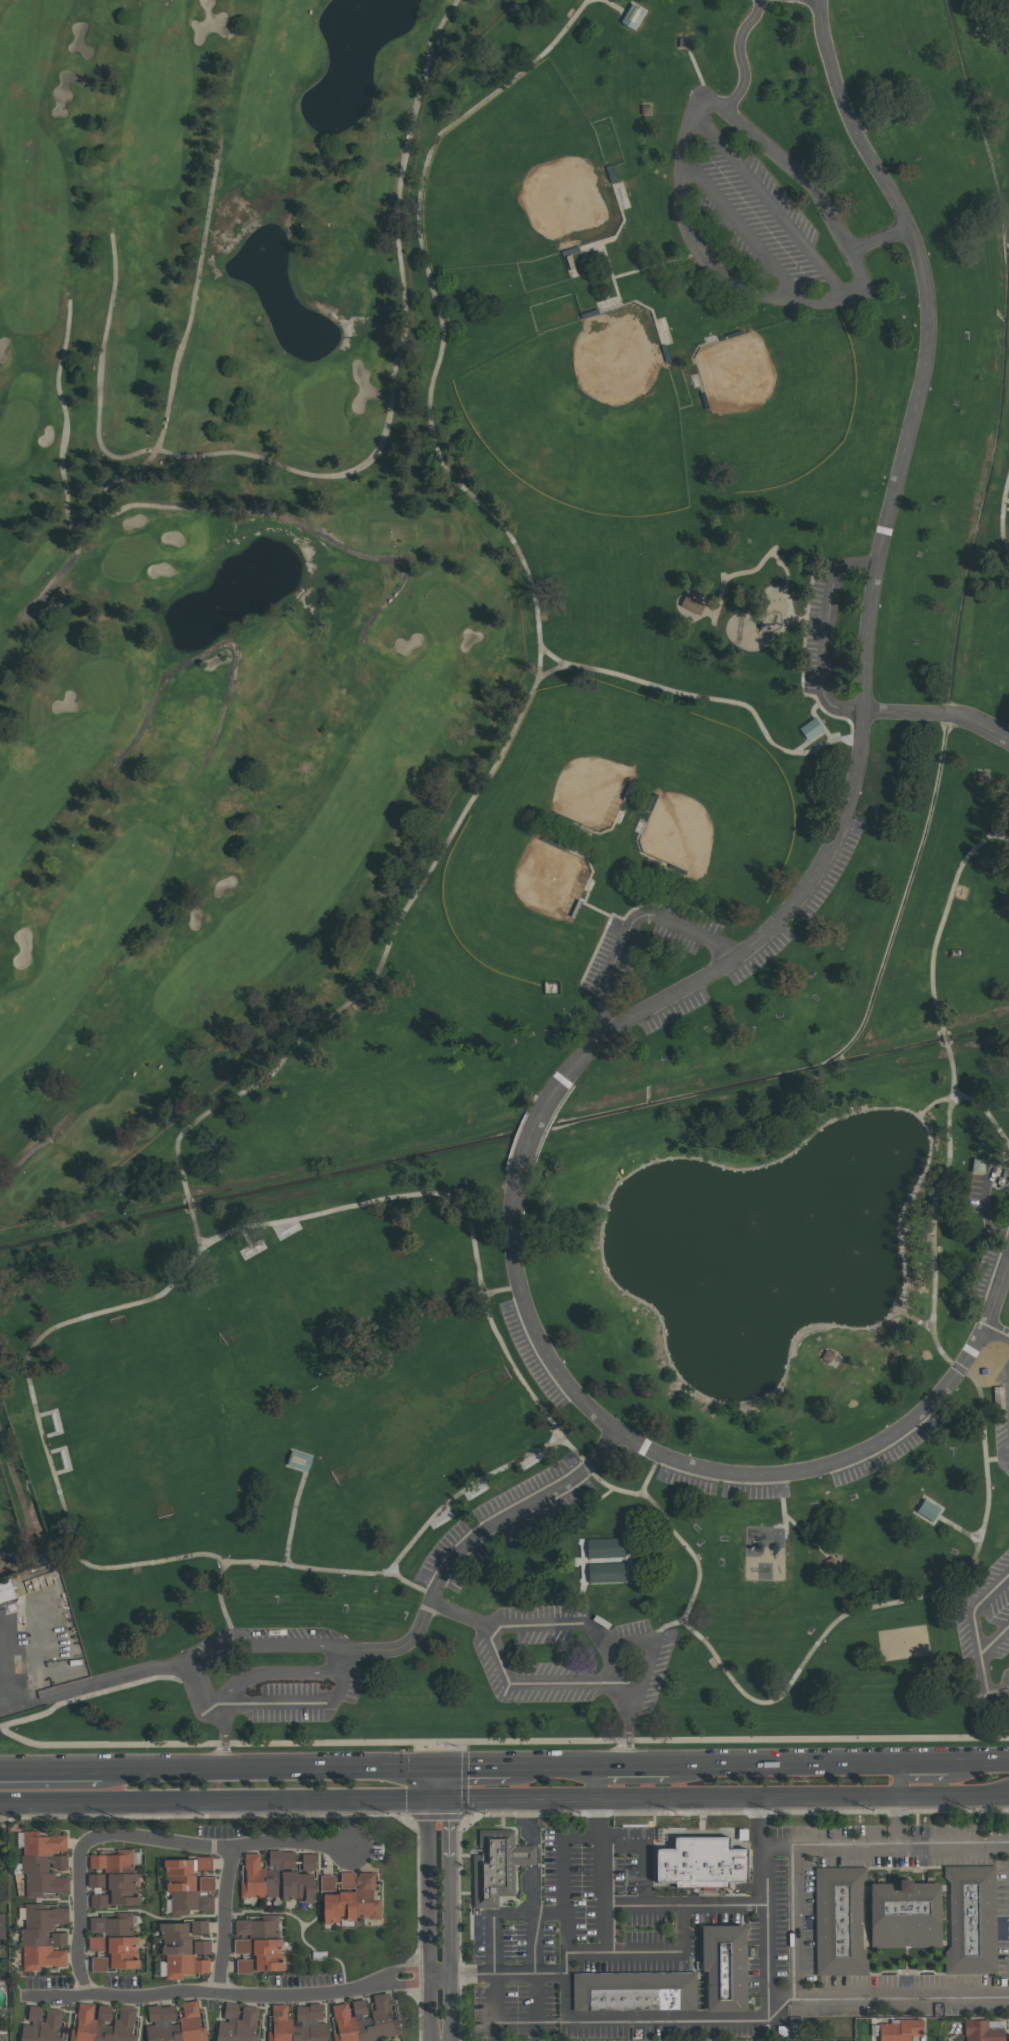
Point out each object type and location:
road: (820, 0)
building: (636, 16)
road: (796, 173)
park: (531, 178)
road: (768, 210)
parking lot: (751, 223)
road: (738, 229)
road: (690, 246)
road: (194, 297)
park: (770, 402)
park: (580, 420)
road: (64, 424)
road: (362, 466)
road: (241, 510)
road: (1001, 520)
park: (213, 548)
building: (691, 604)
road: (870, 608)
road: (537, 613)
parking lot: (818, 636)
road: (828, 637)
road: (206, 649)
road: (714, 700)
road: (902, 712)
road: (950, 714)
road: (983, 727)
building: (810, 732)
park: (578, 771)
park: (709, 819)
road: (1003, 835)
parking lot: (830, 867)
park: (504, 877)
park: (527, 898)
road: (947, 911)
road: (633, 925)
parking lot: (620, 953)
parking lot: (757, 957)
parking lot: (673, 1010)
road: (945, 1041)
road: (953, 1073)
road: (988, 1113)
road: (39, 1145)
road: (525, 1147)
building: (978, 1166)
building: (1005, 1180)
parking lot: (977, 1195)
road: (986, 1199)
road: (189, 1207)
road: (196, 1235)
road: (188, 1265)
parking lot: (989, 1280)
road: (1003, 1284)
road: (500, 1291)
park: (318, 1298)
road: (997, 1334)
parking lot: (534, 1356)
park: (139, 1419)
parking lot: (1001, 1423)
park: (421, 1426)
parking lot: (892, 1447)
building: (299, 1464)
road: (727, 1473)
road: (652, 1476)
parking lot: (723, 1482)
road: (602, 1496)
parking lot: (535, 1501)
building: (929, 1511)
park: (18, 1514)
road: (293, 1520)
road: (958, 1529)
building: (1001, 1534)
road: (470, 1542)
building: (605, 1560)
parking lot: (452, 1561)
building: (8, 1592)
road: (912, 1601)
road: (221, 1604)
road: (665, 1631)
road: (972, 1637)
parking lot: (984, 1638)
road: (600, 1640)
park: (902, 1642)
road: (992, 1642)
road: (266, 1646)
road: (3, 1659)
parking lot: (494, 1664)
road: (610, 1665)
road: (268, 1676)
parking lot: (274, 1680)
road: (98, 1683)
road: (508, 1683)
road: (97, 1694)
road: (2, 1704)
road: (277, 1706)
road: (630, 1732)
road: (225, 1738)
road: (501, 1741)
road: (978, 1764)
road: (784, 1765)
road: (923, 1765)
road: (614, 1766)
road: (650, 1766)
road: (475, 1767)
road: (553, 1767)
road: (270, 1768)
traffic signals: (440, 1768)
road: (50, 1771)
road: (899, 1780)
road: (434, 1782)
road: (445, 1782)
road: (597, 1782)
road: (954, 1796)
traffic signals: (428, 1797)
road: (439, 1797)
traffic signals: (450, 1797)
road: (523, 1797)
road: (748, 1797)
road: (214, 1799)
road: (597, 1814)
road: (526, 1821)
road: (900, 1823)
road: (597, 1834)
road: (644, 1844)
road: (221, 1848)
road: (955, 1849)
road: (763, 1851)
road: (831, 1851)
road: (531, 1855)
building: (112, 1859)
building: (308, 1860)
building: (701, 1861)
building: (44, 1863)
building: (497, 1869)
building: (274, 1878)
building: (96, 1880)
building: (189, 1884)
building: (123, 1889)
building: (350, 1897)
building: (99, 1900)
road: (648, 1905)
road: (81, 1914)
road: (500, 1914)
road: (450, 1918)
road: (428, 1919)
road: (531, 1919)
building: (905, 1919)
road: (225, 1921)
building: (973, 1922)
road: (798, 1924)
building: (2, 1925)
building: (839, 1925)
building: (199, 1926)
building: (44, 1937)
building: (117, 1939)
building: (94, 1943)
building: (258, 1943)
building: (201, 1947)
road: (646, 1951)
building: (179, 1952)
building: (98, 1963)
building: (729, 1968)
road: (508, 1973)
road: (228, 1993)
building: (637, 1993)
road: (842, 1995)
building: (160, 2014)
building: (365, 2019)
road: (571, 2020)
building: (103, 2023)
building: (237, 2023)
building: (41, 2024)
building: (297, 2024)
building: (899, 2029)
building: (982, 2031)
park: (836, 2040)

